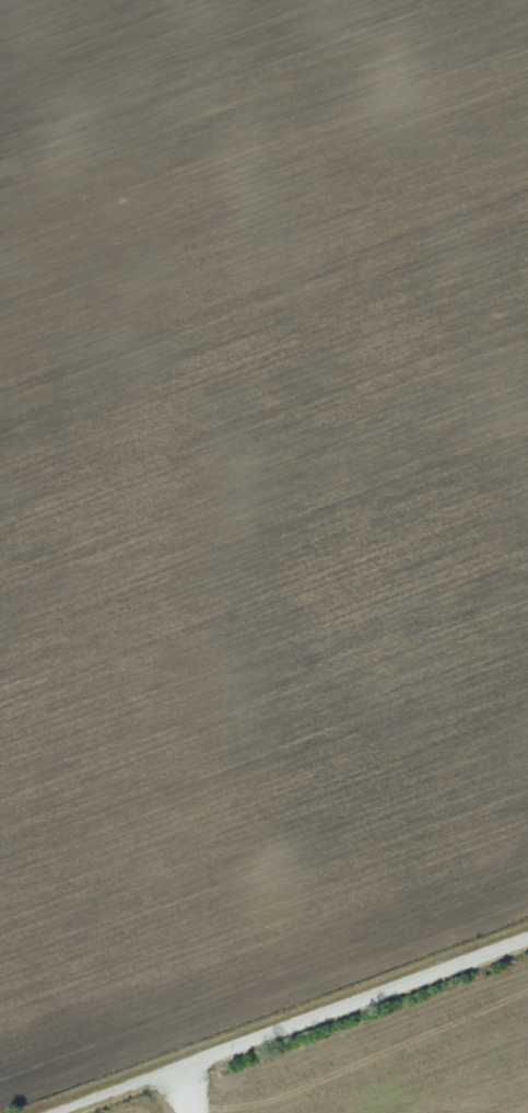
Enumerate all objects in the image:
road: (298, 1028)

